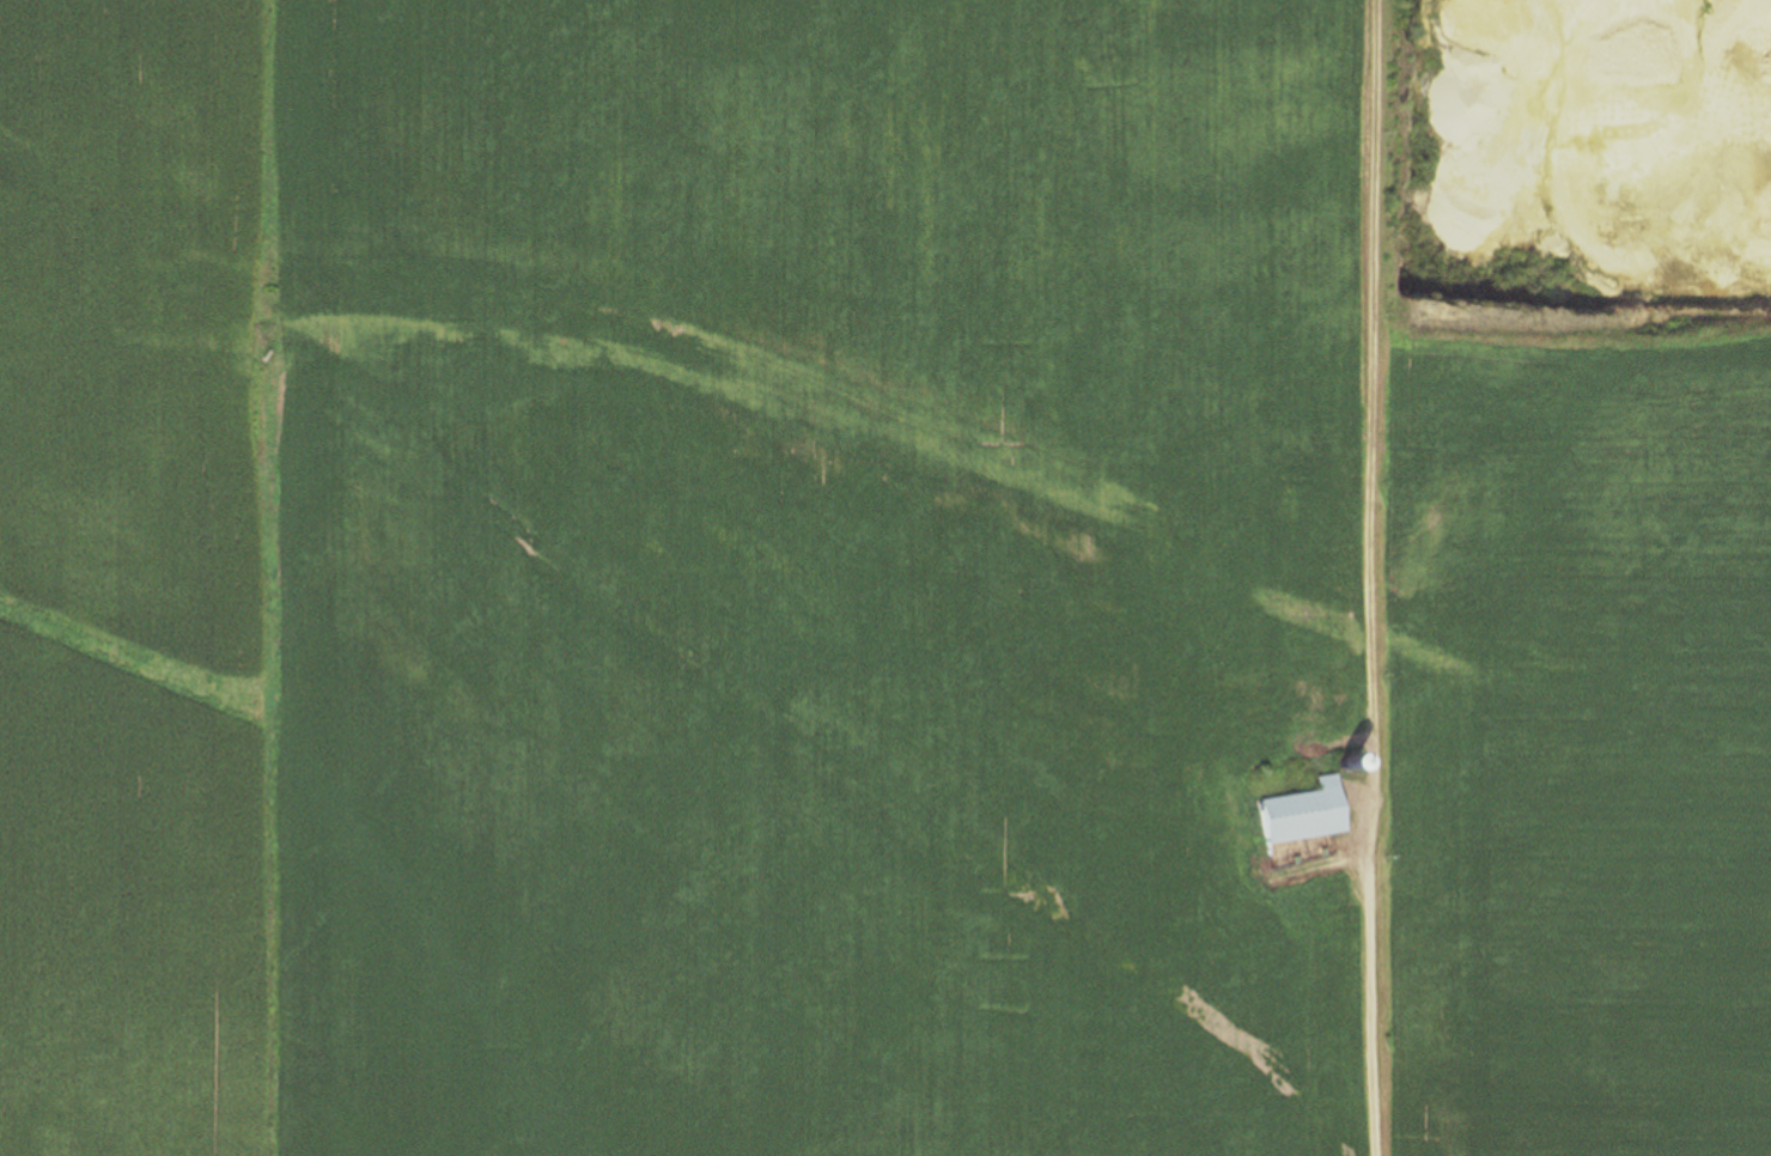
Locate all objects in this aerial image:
road: (1371, 577)
building: (1292, 814)

